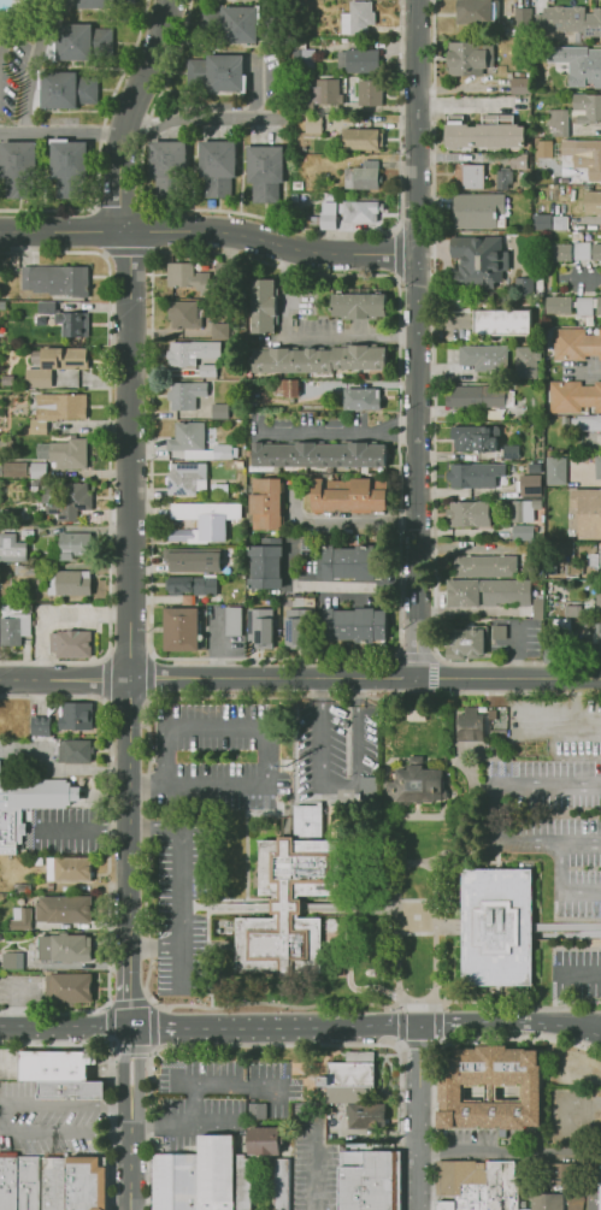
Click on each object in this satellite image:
building: (90, 1)
building: (472, 13)
building: (358, 18)
building: (522, 18)
building: (571, 20)
building: (230, 25)
building: (75, 40)
building: (466, 55)
road: (35, 57)
building: (304, 59)
building: (355, 59)
building: (577, 63)
building: (213, 75)
building: (522, 85)
building: (326, 89)
building: (61, 90)
building: (370, 90)
building: (588, 107)
road: (132, 113)
road: (198, 120)
building: (558, 120)
building: (312, 126)
road: (63, 132)
building: (484, 136)
building: (363, 138)
building: (541, 148)
building: (589, 157)
building: (523, 160)
building: (71, 164)
building: (218, 164)
building: (17, 167)
building: (166, 167)
building: (266, 171)
building: (470, 176)
building: (364, 177)
building: (503, 179)
building: (591, 201)
building: (361, 212)
building: (475, 212)
building: (328, 216)
building: (559, 222)
building: (540, 223)
road: (210, 232)
building: (461, 252)
building: (559, 252)
building: (582, 252)
building: (599, 253)
building: (494, 259)
building: (178, 275)
road: (588, 278)
building: (55, 282)
building: (520, 287)
building: (359, 305)
building: (561, 305)
building: (583, 305)
building: (263, 306)
building: (600, 306)
building: (46, 307)
building: (185, 317)
building: (502, 321)
building: (72, 324)
building: (218, 330)
road: (312, 336)
road: (417, 340)
building: (576, 344)
building: (182, 354)
building: (359, 358)
building: (484, 358)
building: (291, 361)
building: (526, 362)
building: (54, 365)
building: (211, 371)
building: (6, 382)
building: (290, 390)
building: (185, 395)
building: (479, 396)
building: (573, 396)
building: (363, 399)
building: (51, 411)
building: (218, 411)
building: (584, 424)
road: (340, 432)
building: (466, 437)
building: (488, 438)
building: (187, 441)
building: (220, 448)
building: (512, 451)
building: (66, 453)
road: (130, 454)
building: (320, 456)
building: (597, 466)
building: (556, 468)
building: (13, 470)
building: (37, 472)
building: (473, 477)
building: (185, 479)
building: (529, 484)
building: (219, 491)
building: (365, 496)
building: (324, 498)
building: (69, 501)
building: (266, 503)
building: (525, 512)
building: (588, 512)
building: (471, 514)
building: (207, 518)
building: (522, 532)
building: (181, 535)
building: (69, 542)
building: (12, 548)
building: (594, 560)
building: (194, 561)
building: (352, 562)
building: (265, 565)
building: (485, 567)
building: (24, 571)
building: (73, 584)
building: (194, 586)
road: (354, 589)
building: (579, 589)
building: (508, 592)
building: (461, 594)
building: (597, 595)
building: (571, 610)
building: (232, 620)
building: (354, 625)
building: (263, 626)
building: (179, 627)
building: (8, 631)
building: (294, 631)
building: (499, 632)
building: (467, 642)
building: (600, 643)
building: (72, 644)
road: (514, 650)
road: (431, 655)
road: (66, 679)
road: (277, 679)
road: (511, 679)
building: (73, 716)
building: (470, 725)
building: (40, 733)
road: (265, 743)
parking lot: (338, 748)
building: (76, 750)
parking lot: (218, 756)
building: (416, 783)
road: (338, 784)
building: (31, 802)
road: (497, 815)
building: (310, 822)
parking lot: (550, 825)
road: (145, 852)
road: (134, 855)
road: (413, 862)
building: (67, 868)
road: (179, 886)
road: (561, 889)
road: (436, 897)
road: (435, 898)
building: (291, 903)
building: (64, 909)
parking lot: (181, 909)
building: (19, 917)
building: (571, 928)
building: (499, 929)
road: (397, 932)
building: (63, 946)
road: (157, 949)
building: (11, 961)
parking lot: (576, 973)
road: (581, 976)
building: (69, 988)
flagpole: (403, 988)
flagpole: (429, 988)
road: (151, 1005)
road: (509, 1022)
road: (581, 1022)
road: (67, 1028)
road: (276, 1028)
traffic signals: (157, 1031)
road: (399, 1040)
road: (437, 1043)
traffic signals: (134, 1057)
building: (55, 1064)
road: (108, 1064)
road: (132, 1067)
building: (348, 1076)
road: (228, 1086)
building: (484, 1088)
building: (72, 1090)
road: (399, 1091)
parking lot: (217, 1097)
road: (192, 1103)
building: (259, 1110)
road: (132, 1112)
building: (363, 1116)
road: (417, 1116)
road: (1, 1117)
road: (183, 1121)
road: (132, 1127)
building: (267, 1140)
road: (508, 1149)
parking lot: (313, 1165)
road: (314, 1167)
road: (131, 1171)
building: (218, 1173)
building: (177, 1181)
building: (371, 1181)
building: (19, 1182)
building: (244, 1182)
building: (55, 1184)
building: (88, 1184)
building: (283, 1184)
building: (456, 1184)
building: (496, 1185)
building: (555, 1188)
building: (599, 1188)
building: (440, 1205)

